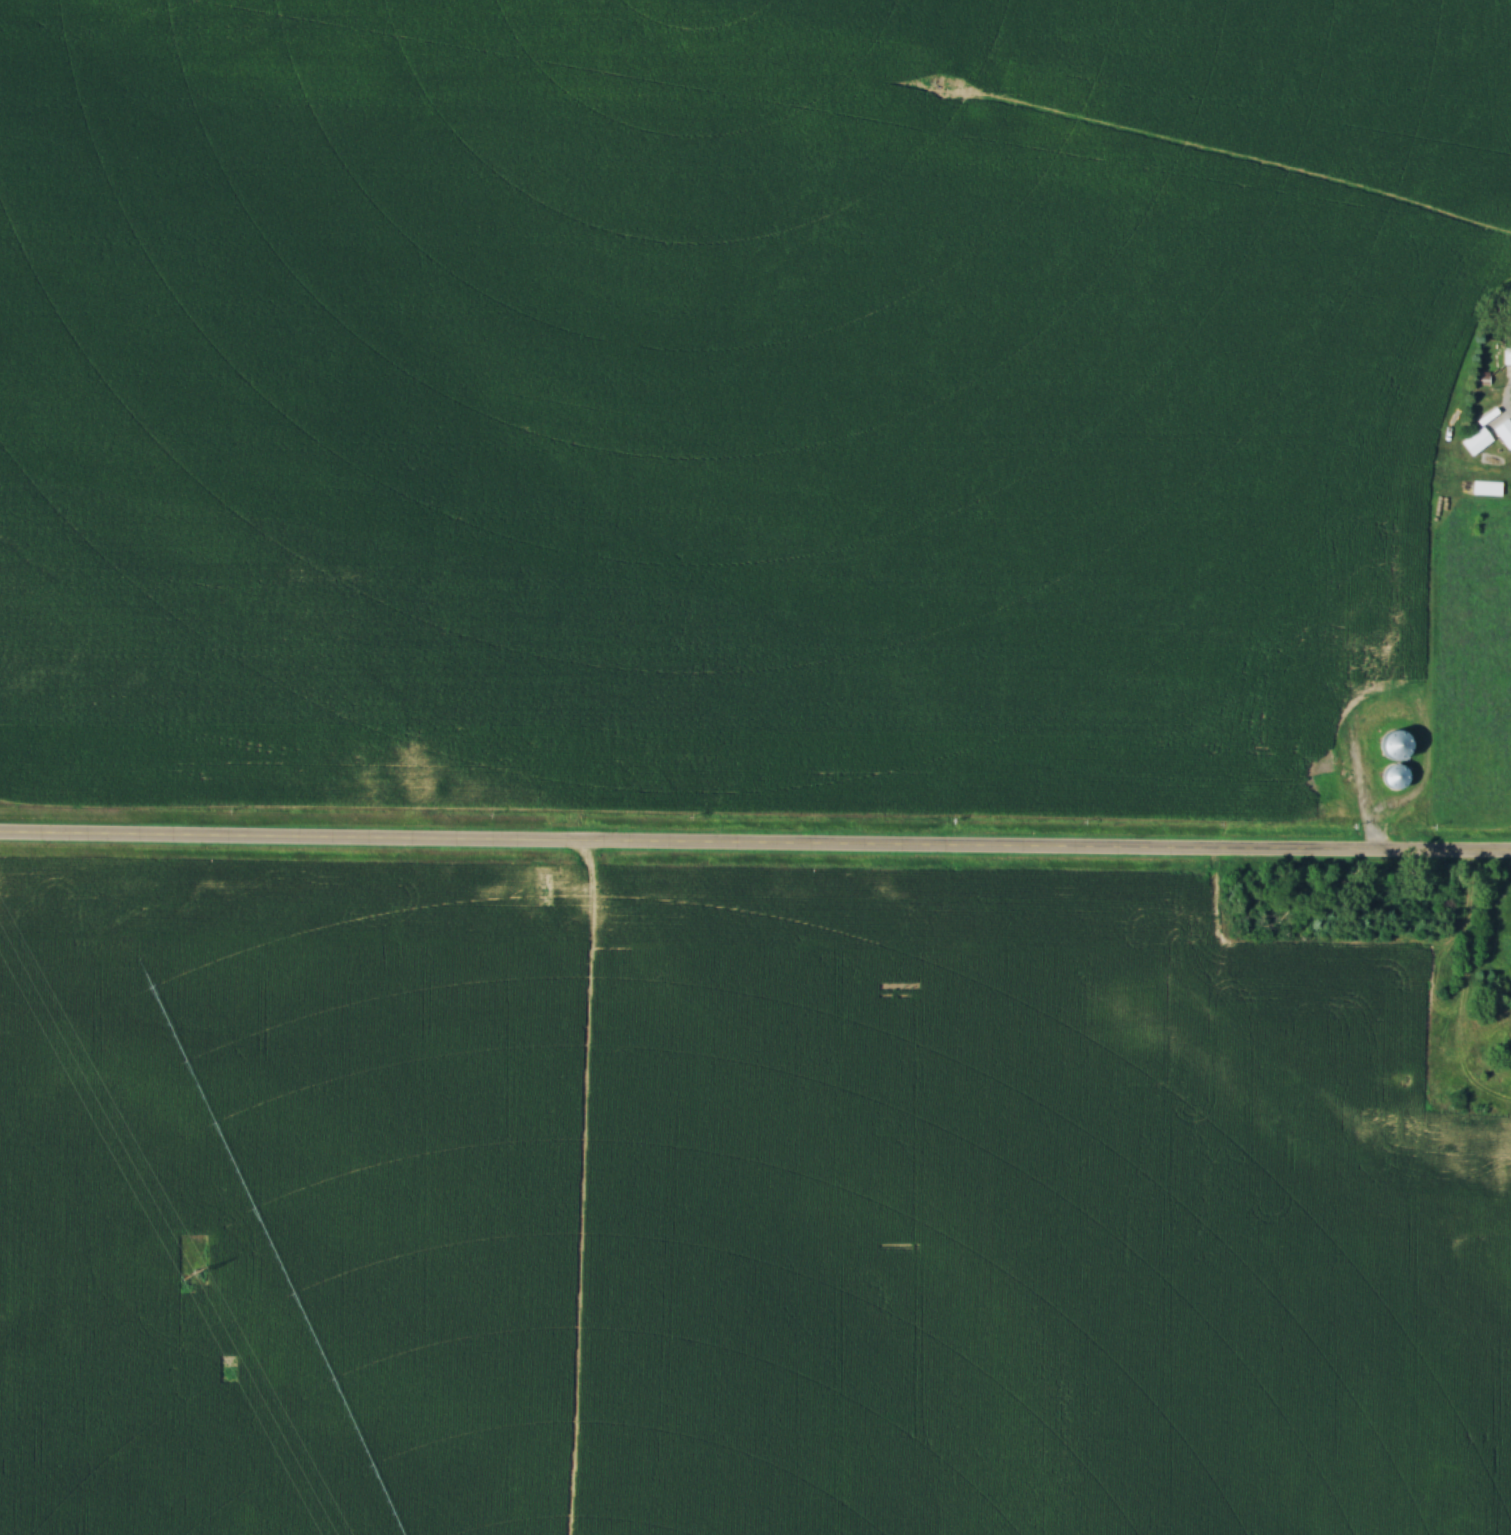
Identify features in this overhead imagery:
building: (1504, 354)
building: (1502, 432)
building: (1472, 440)
building: (1388, 744)
building: (1389, 777)
road: (755, 848)
road: (1465, 944)
building: (1499, 1018)
building: (1414, 1085)
power tower: (191, 1276)

